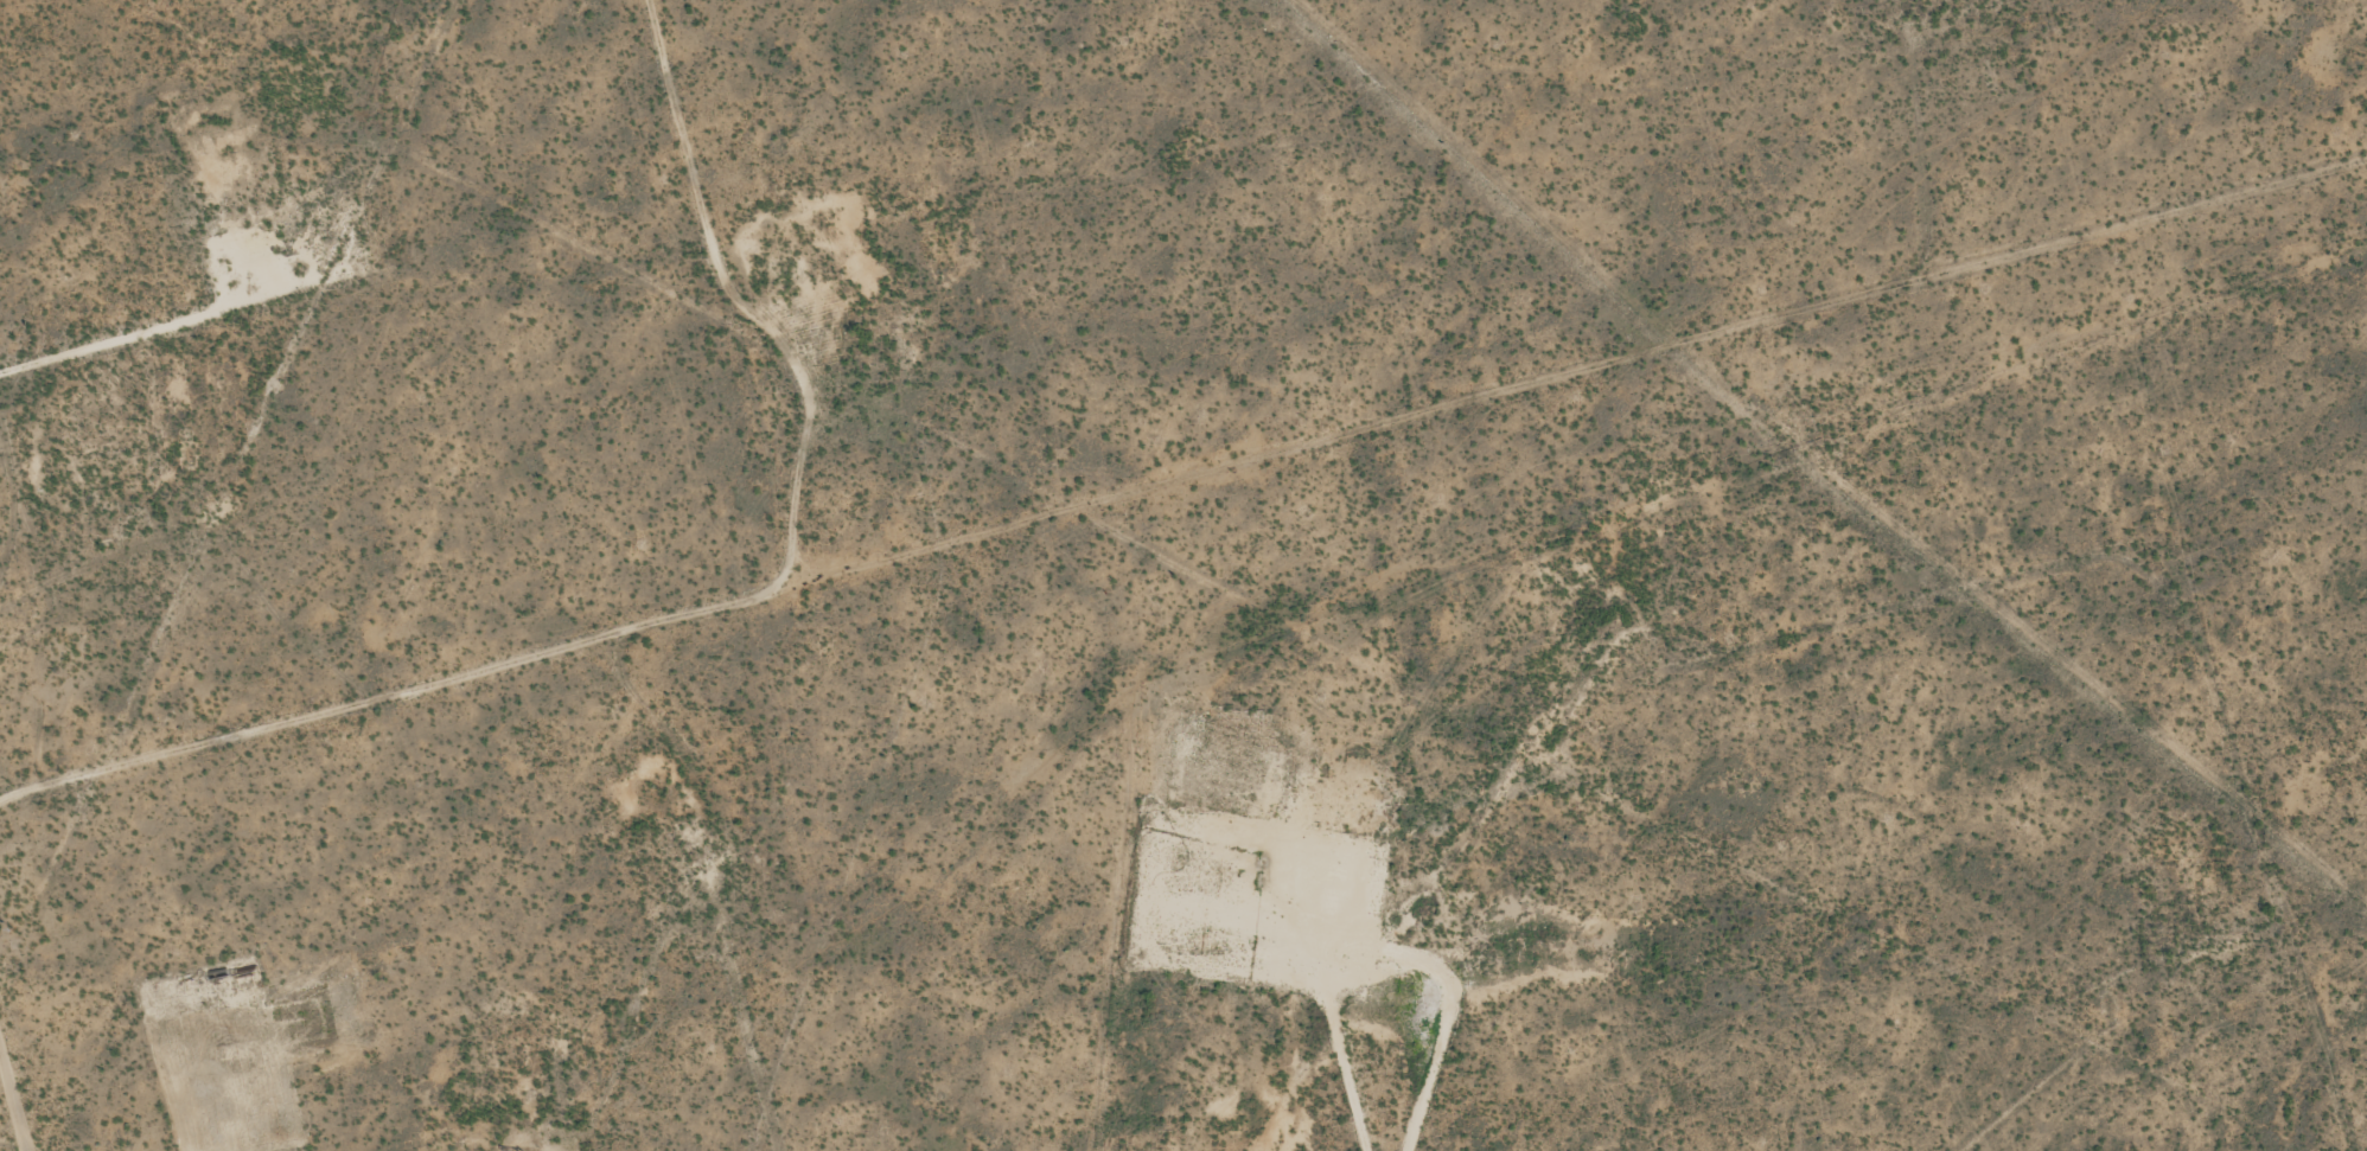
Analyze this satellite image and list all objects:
road: (21, 1070)

